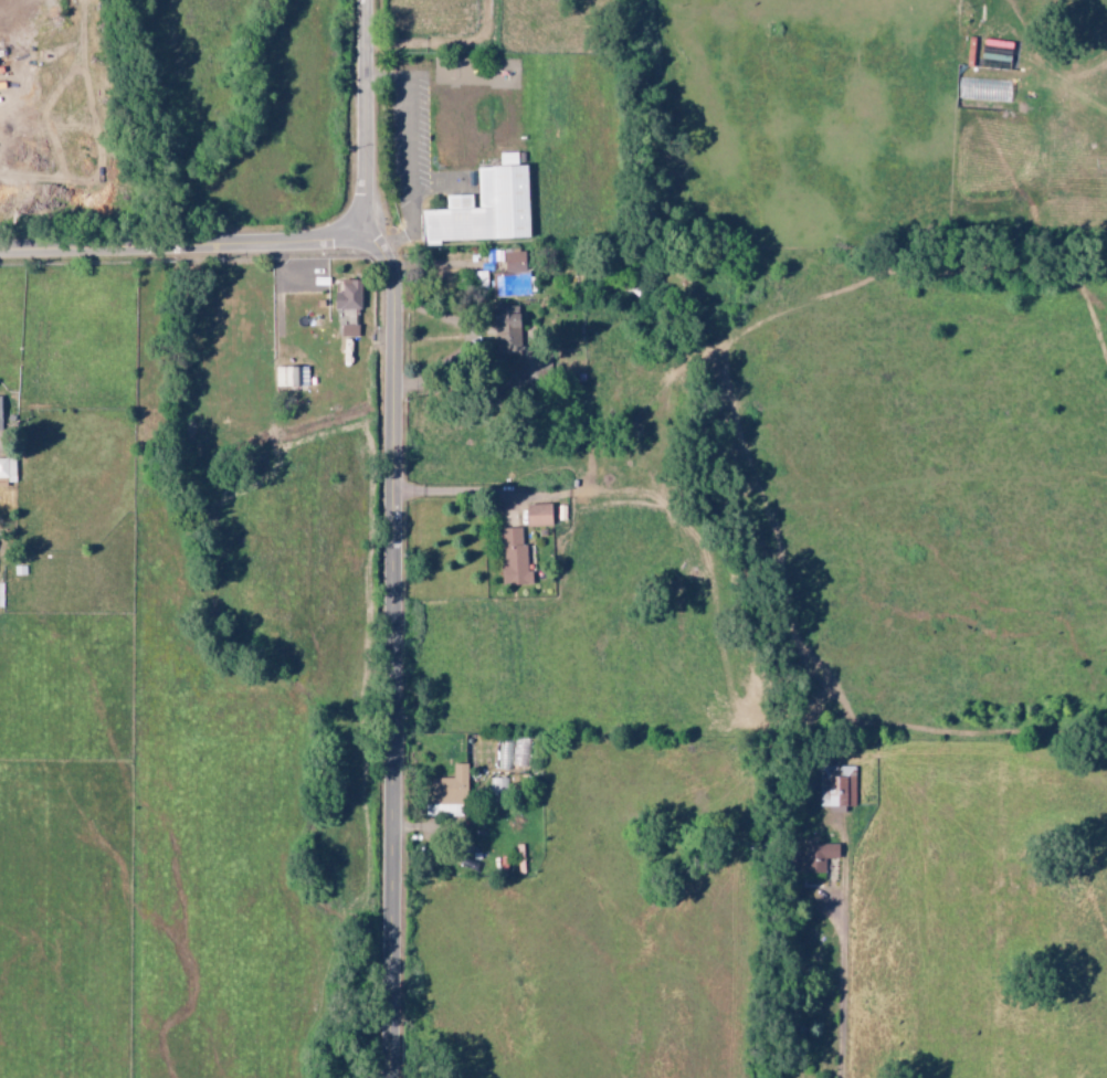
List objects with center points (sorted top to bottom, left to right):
road: (447, 44)
road: (369, 118)
building: (486, 208)
building: (513, 276)
building: (349, 295)
building: (350, 330)
building: (508, 331)
building: (292, 377)
building: (0, 415)
road: (396, 468)
building: (8, 472)
building: (540, 515)
building: (515, 558)
building: (837, 785)
building: (449, 792)
building: (822, 854)

